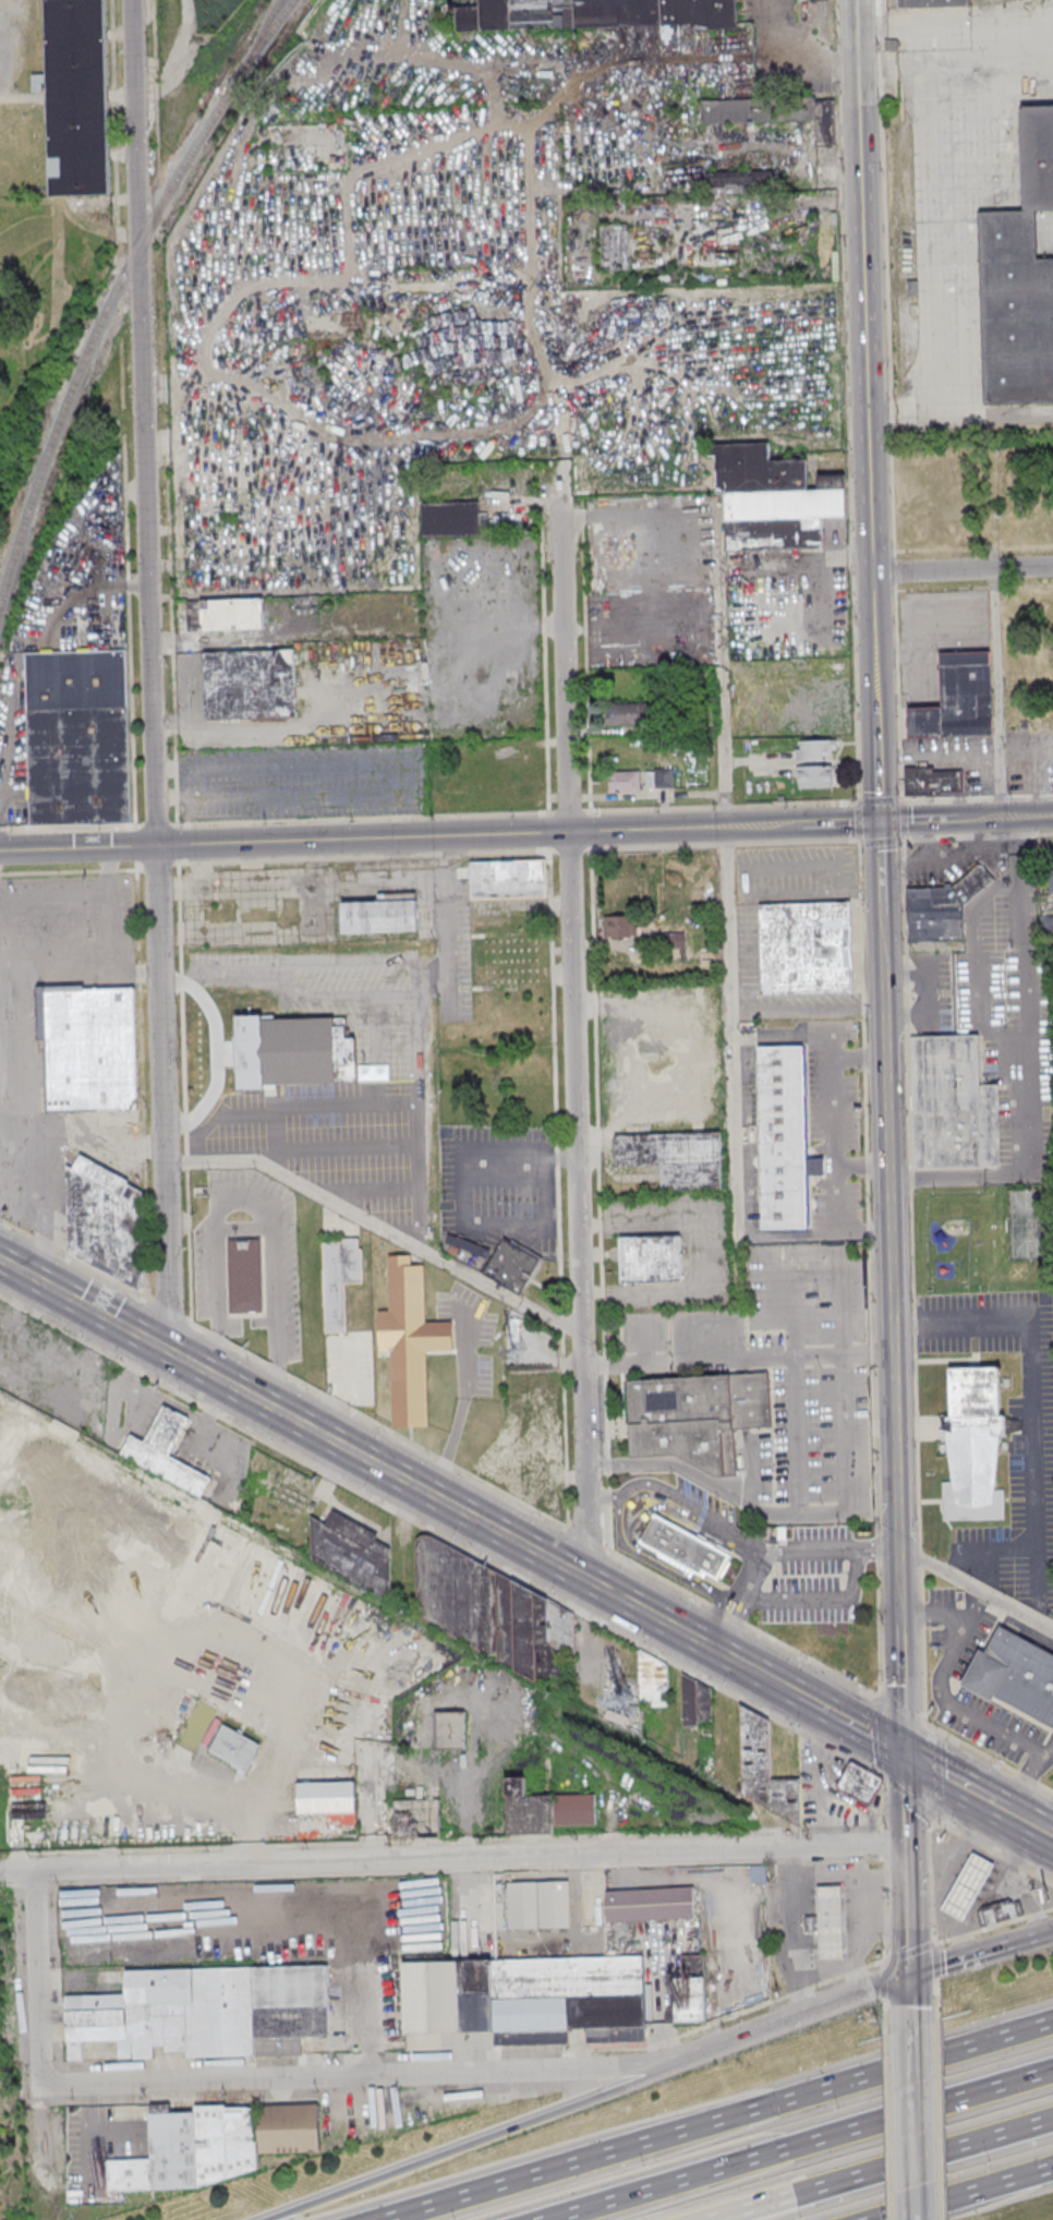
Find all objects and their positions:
building: (935, 5)
building: (659, 12)
building: (518, 14)
railway: (273, 16)
road: (954, 24)
road: (792, 55)
building: (76, 96)
building: (775, 112)
building: (1037, 161)
building: (742, 181)
building: (615, 246)
road: (953, 255)
building: (1016, 314)
railway: (107, 315)
road: (846, 401)
building: (758, 468)
building: (450, 518)
building: (780, 518)
road: (961, 570)
building: (225, 614)
road: (149, 675)
building: (250, 684)
road: (996, 692)
building: (957, 698)
building: (626, 713)
building: (78, 737)
building: (815, 749)
building: (814, 775)
building: (664, 777)
road: (876, 777)
building: (622, 781)
building: (933, 781)
road: (801, 804)
road: (965, 819)
road: (857, 820)
traffic signals: (877, 822)
road: (438, 835)
road: (1022, 836)
building: (1051, 870)
building: (507, 879)
building: (971, 882)
road: (52, 885)
building: (382, 913)
building: (935, 914)
building: (619, 926)
road: (107, 932)
building: (804, 948)
building: (510, 960)
road: (976, 963)
parking lot: (998, 1016)
road: (573, 1039)
building: (90, 1047)
building: (293, 1051)
road: (857, 1055)
road: (733, 1066)
road: (1028, 1069)
road: (745, 1083)
building: (956, 1105)
parking lot: (835, 1125)
road: (81, 1133)
building: (783, 1135)
building: (675, 1158)
road: (904, 1177)
road: (462, 1206)
building: (105, 1214)
park: (1031, 1224)
road: (377, 1234)
building: (465, 1248)
building: (650, 1257)
building: (513, 1263)
building: (246, 1275)
building: (339, 1278)
building: (409, 1340)
road: (1031, 1383)
building: (697, 1416)
building: (976, 1433)
road: (873, 1434)
building: (529, 1443)
building: (166, 1450)
road: (385, 1470)
parking lot: (1031, 1482)
road: (603, 1498)
road: (935, 1500)
road: (525, 1505)
road: (681, 1505)
road: (944, 1516)
road: (441, 1536)
building: (683, 1547)
road: (987, 1548)
building: (353, 1553)
road: (976, 1591)
road: (738, 1597)
road: (824, 1600)
road: (983, 1600)
road: (939, 1608)
building: (495, 1615)
road: (898, 1615)
road: (715, 1617)
road: (736, 1628)
parking lot: (953, 1651)
road: (945, 1669)
building: (1015, 1675)
road: (785, 1687)
building: (697, 1700)
road: (812, 1702)
road: (900, 1714)
building: (450, 1729)
road: (866, 1733)
building: (233, 1746)
traffic signals: (901, 1754)
building: (762, 1769)
road: (937, 1774)
road: (1029, 1783)
building: (860, 1784)
road: (953, 1784)
road: (373, 1790)
road: (903, 1799)
road: (910, 1799)
building: (526, 1808)
building: (416, 1818)
road: (942, 1821)
road: (1029, 1827)
road: (452, 1861)
road: (905, 1871)
building: (969, 1889)
building: (538, 1904)
building: (650, 1905)
road: (273, 1911)
building: (1001, 1914)
building: (831, 1925)
road: (1033, 1939)
road: (960, 1960)
road: (907, 1962)
traffic signals: (908, 1976)
road: (37, 1979)
building: (690, 1990)
building: (528, 1999)
building: (203, 2014)
road: (790, 2019)
road: (356, 2075)
road: (722, 2120)
road: (911, 2122)
road: (886, 2124)
building: (217, 2144)
road: (477, 2144)
road: (801, 2144)
road: (882, 2168)
road: (972, 2195)

